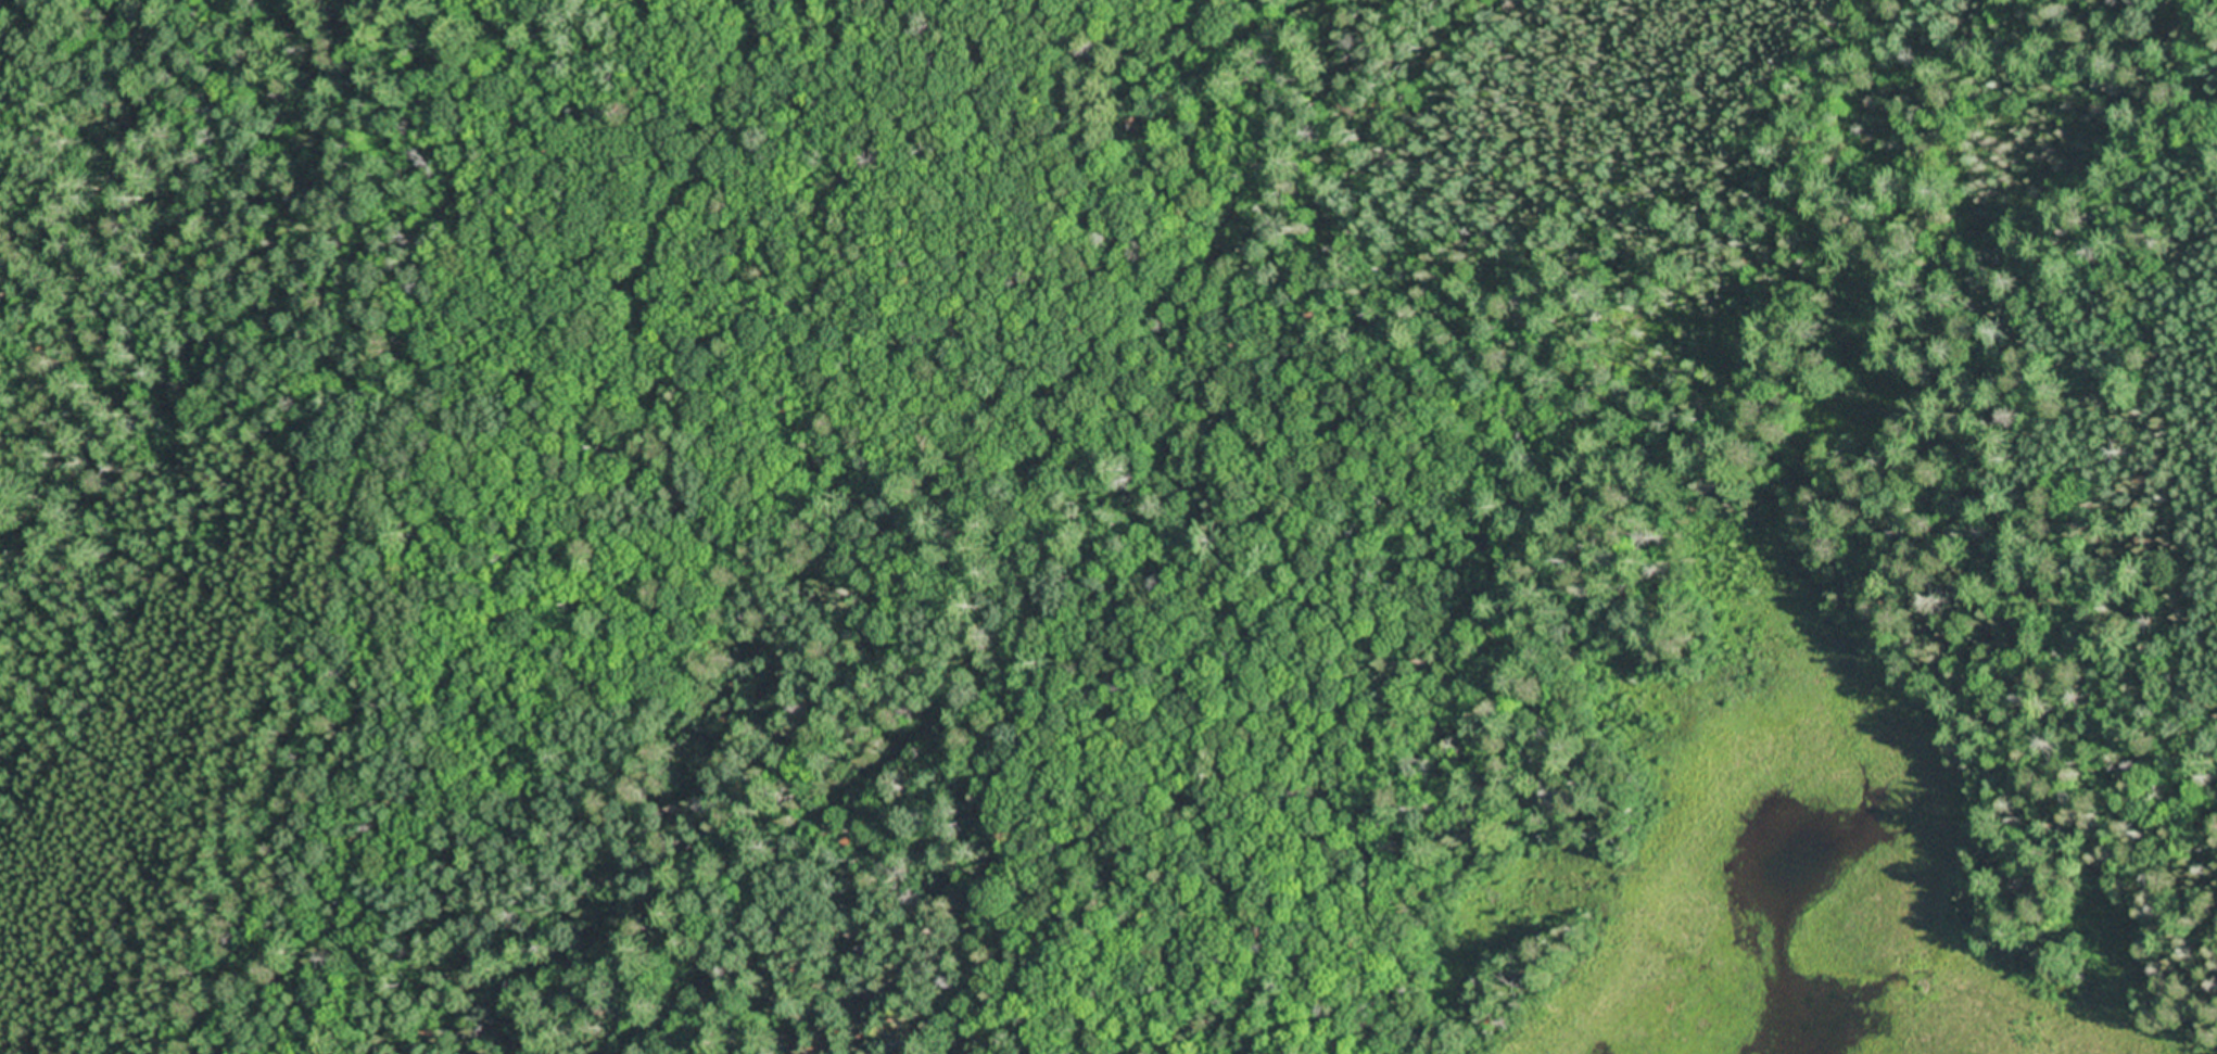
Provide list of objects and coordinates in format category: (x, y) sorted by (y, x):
road: (10, 28)
road: (1218, 33)
road: (1177, 36)
road: (1260, 49)
building: (1205, 90)
building: (1128, 116)
road: (883, 147)
road: (1538, 561)
road: (1087, 592)
road: (9, 682)
road: (790, 972)
road: (35, 1050)

